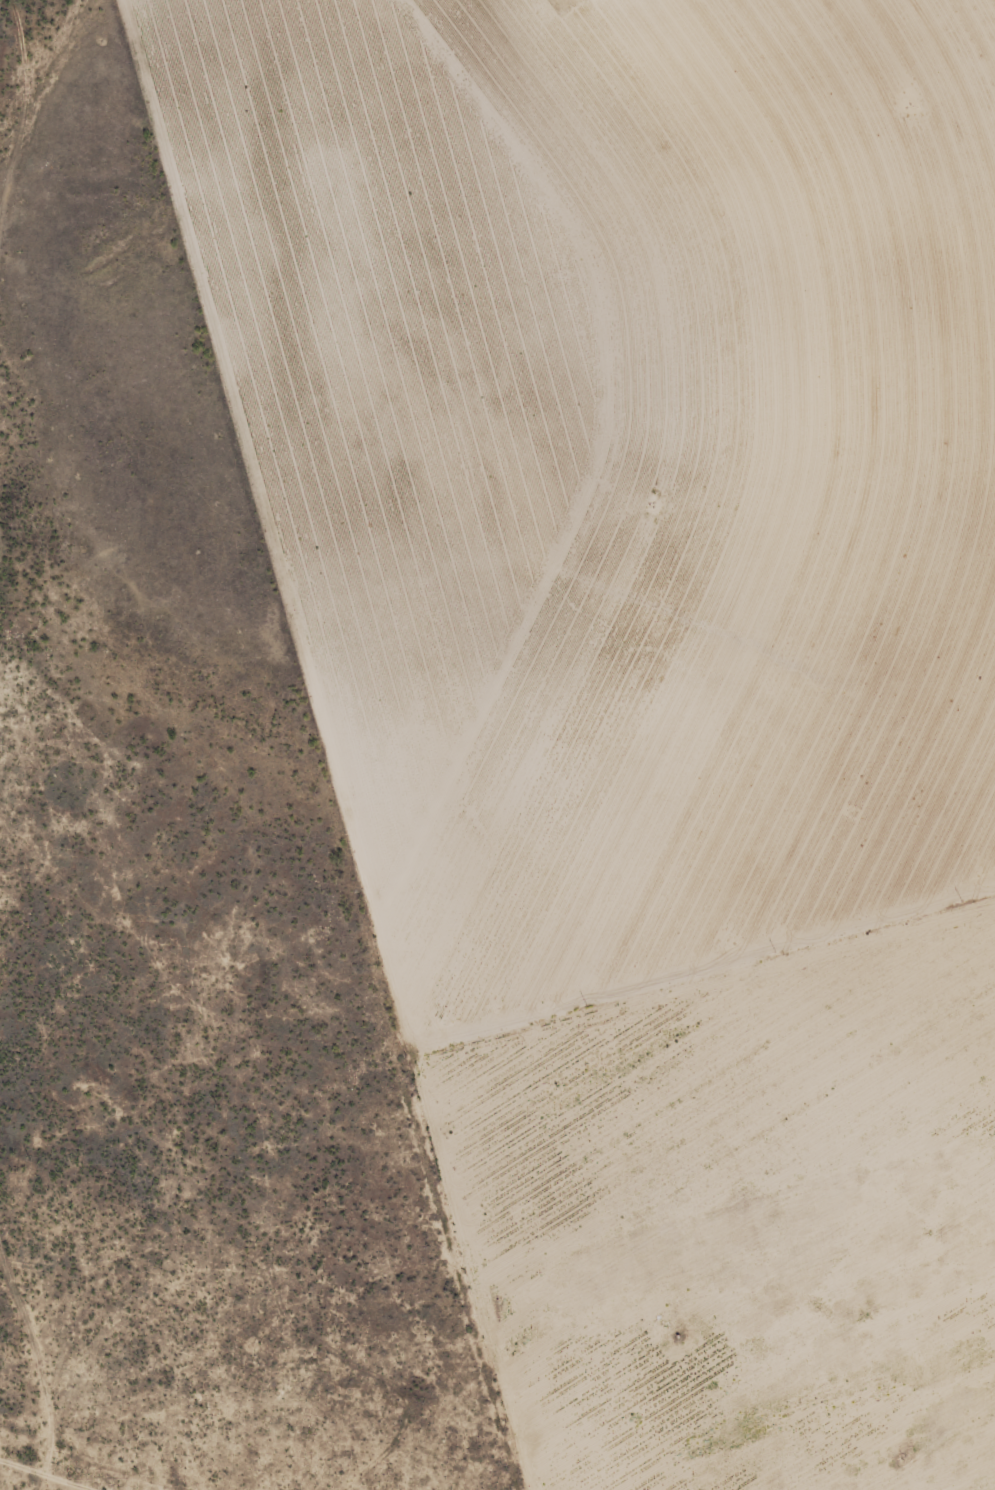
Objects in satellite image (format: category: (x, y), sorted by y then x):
road: (9, 1442)

